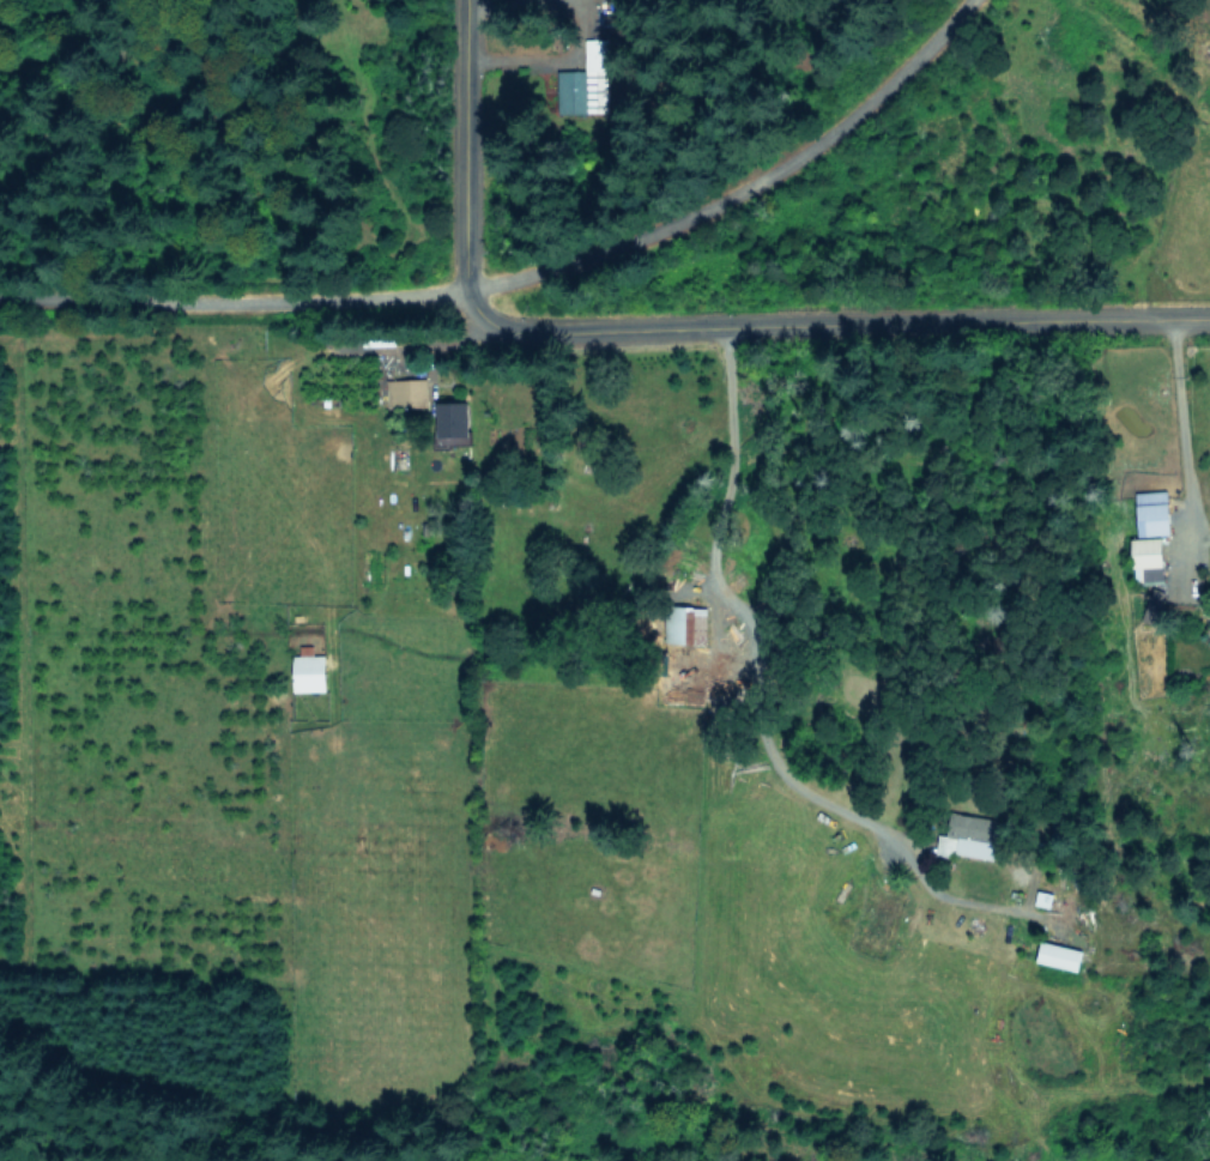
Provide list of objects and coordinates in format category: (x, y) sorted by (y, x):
road: (494, 6)
building: (587, 79)
road: (466, 144)
road: (732, 185)
road: (230, 307)
road: (827, 316)
building: (407, 392)
building: (454, 421)
road: (1175, 442)
building: (1152, 512)
building: (1149, 560)
building: (1152, 605)
road: (744, 611)
building: (690, 624)
building: (309, 670)
building: (980, 838)
building: (1059, 954)

